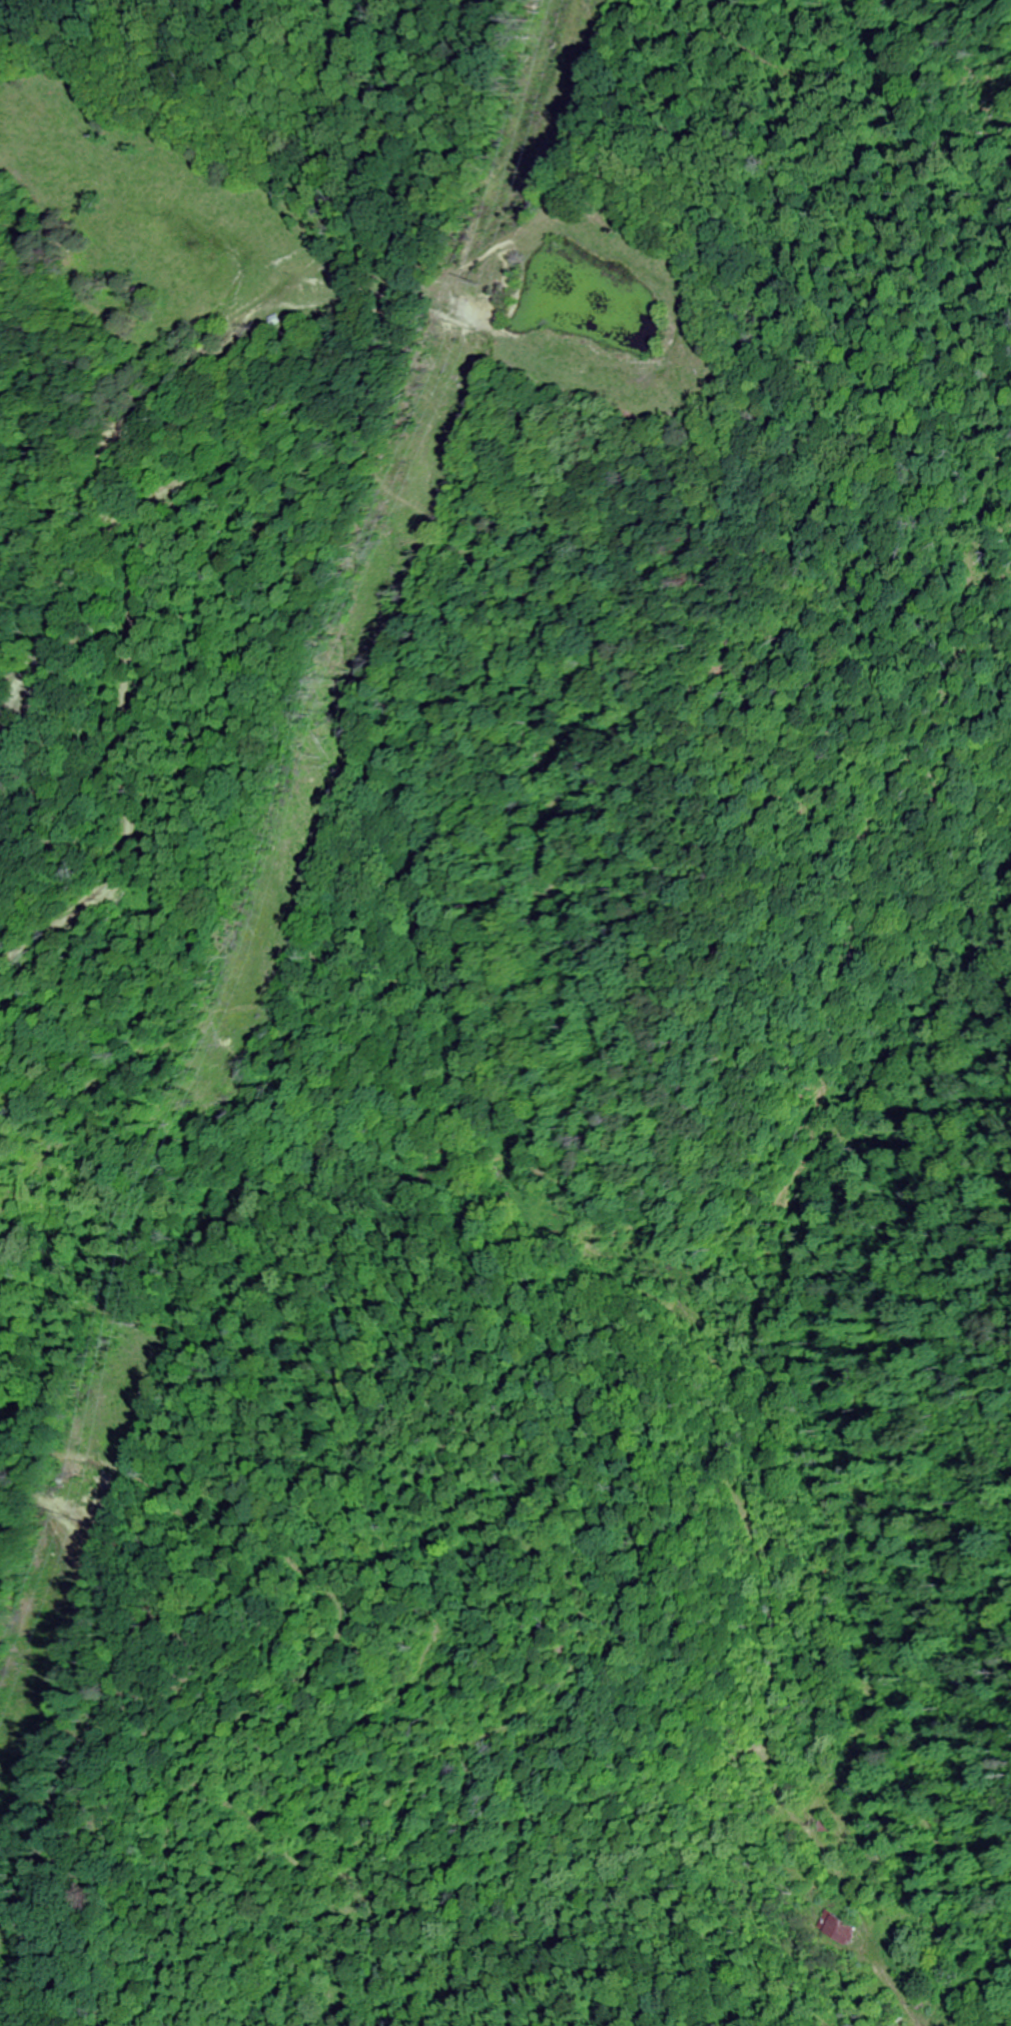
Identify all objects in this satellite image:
building: (4, 1817)
building: (837, 1926)

